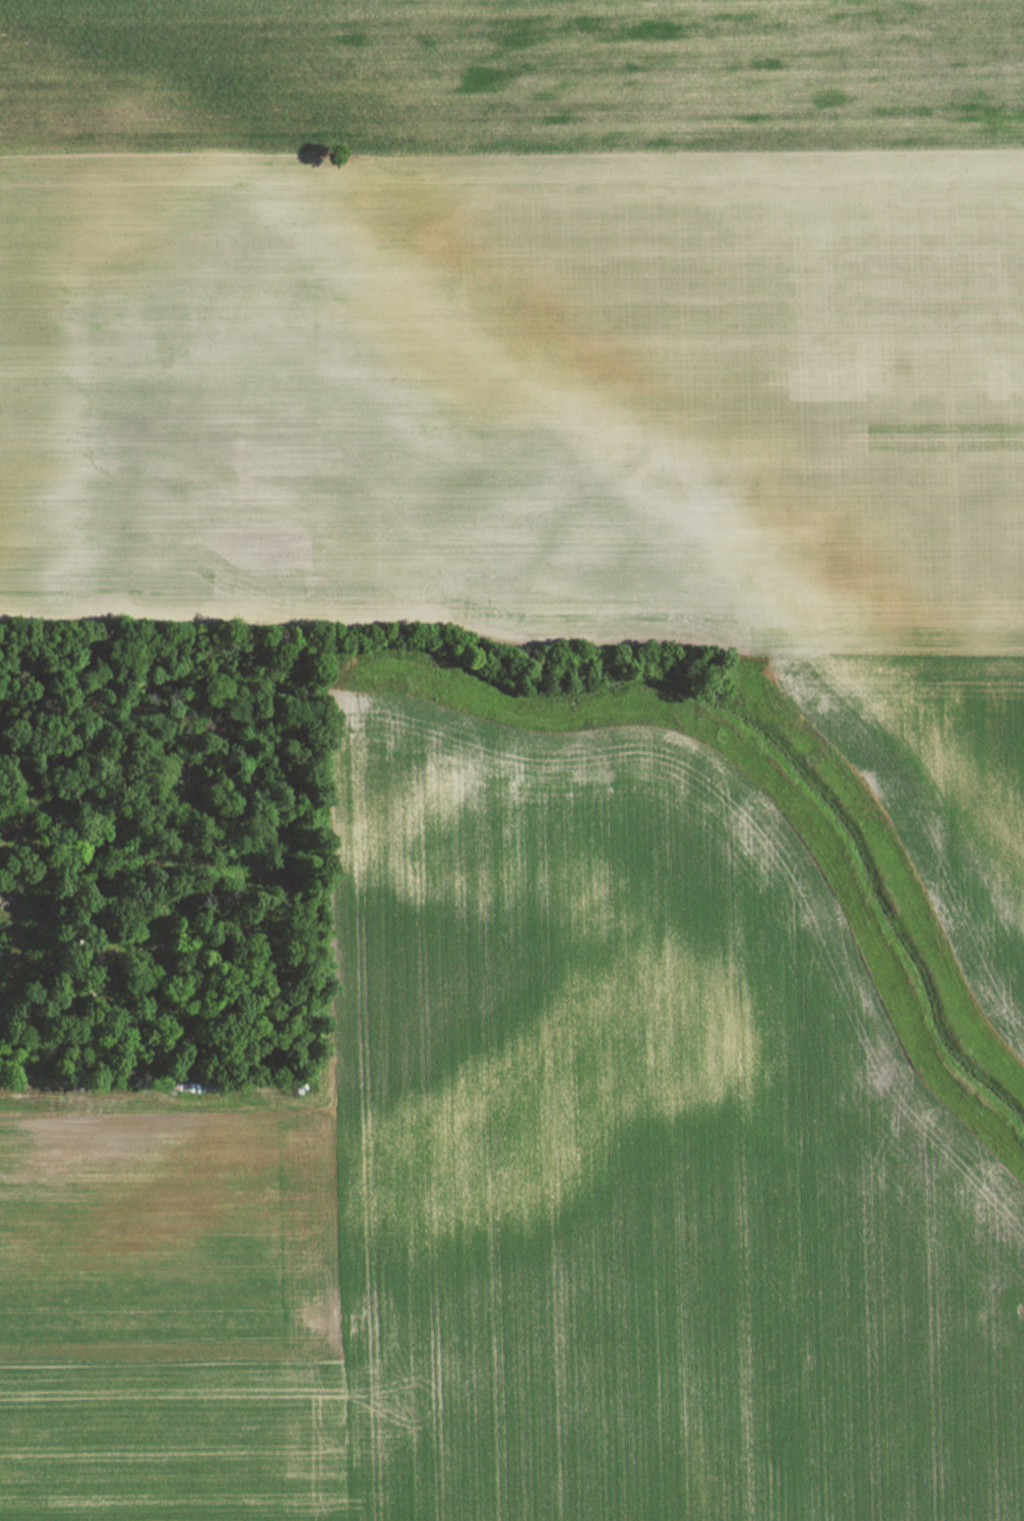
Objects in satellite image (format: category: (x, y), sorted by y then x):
crop: (503, 83)
crop: (567, 433)
crop: (638, 1159)
crop: (171, 1304)

